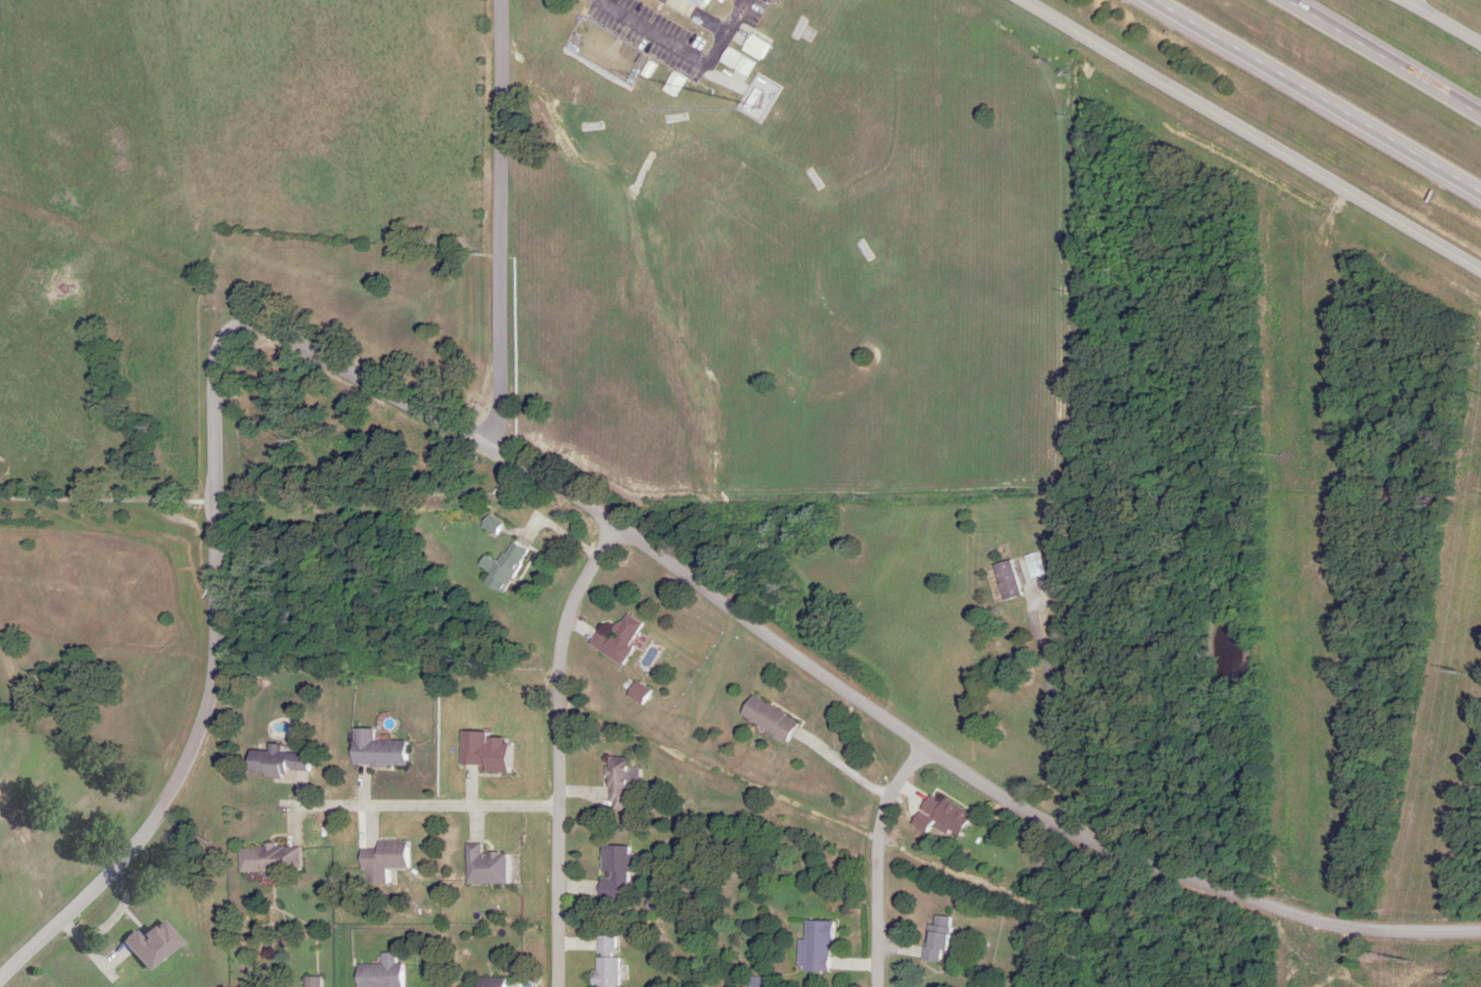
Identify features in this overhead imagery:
road: (1411, 3)
road: (1440, 22)
road: (1385, 56)
road: (1315, 98)
road: (1249, 135)
road: (500, 223)
road: (108, 502)
building: (491, 525)
building: (1031, 565)
building: (505, 566)
building: (1004, 580)
road: (760, 631)
building: (619, 639)
building: (642, 693)
road: (1052, 705)
building: (775, 718)
road: (215, 746)
building: (384, 749)
building: (487, 750)
road: (558, 751)
building: (287, 762)
road: (844, 767)
building: (627, 785)
road: (419, 806)
building: (938, 815)
road: (133, 846)
building: (276, 858)
building: (391, 860)
road: (881, 860)
building: (489, 866)
building: (620, 872)
building: (662, 905)
building: (933, 941)
building: (153, 944)
building: (608, 945)
building: (812, 947)
road: (1349, 958)
building: (610, 972)
building: (385, 973)
building: (315, 982)
building: (501, 982)

